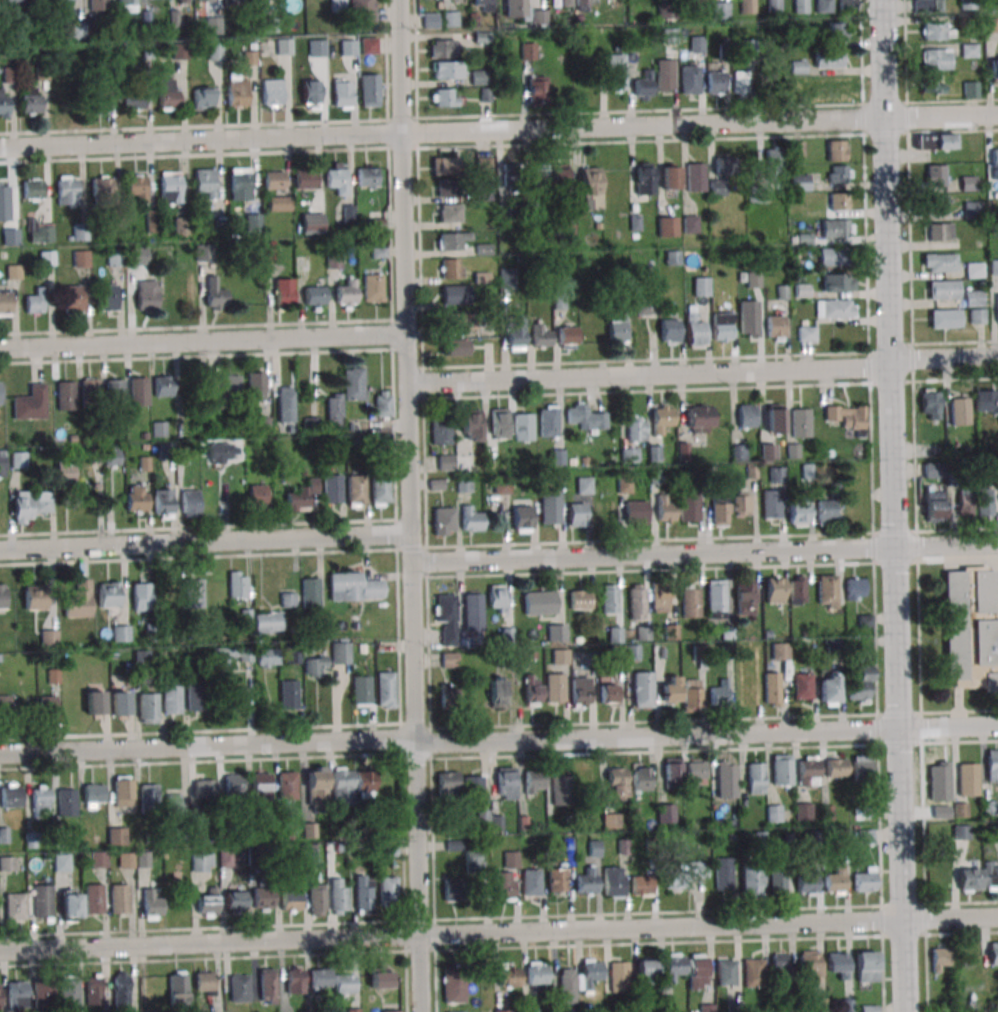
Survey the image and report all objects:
building: (12, 0)
building: (203, 0)
building: (232, 0)
building: (459, 0)
building: (182, 1)
building: (691, 1)
building: (565, 2)
building: (583, 2)
building: (98, 5)
building: (126, 5)
building: (845, 5)
building: (929, 5)
building: (747, 6)
building: (801, 6)
building: (824, 6)
building: (773, 7)
building: (514, 8)
building: (721, 10)
building: (360, 11)
building: (538, 16)
building: (666, 16)
building: (450, 18)
building: (429, 20)
building: (213, 25)
building: (76, 30)
building: (938, 31)
building: (837, 32)
building: (697, 44)
building: (368, 45)
building: (283, 46)
building: (316, 48)
building: (442, 48)
building: (528, 50)
building: (969, 50)
building: (179, 51)
building: (214, 51)
building: (829, 59)
building: (936, 59)
building: (798, 67)
building: (994, 68)
building: (444, 70)
building: (615, 72)
building: (665, 74)
building: (479, 77)
building: (690, 79)
building: (742, 81)
building: (716, 82)
building: (643, 85)
building: (931, 85)
building: (971, 89)
building: (369, 90)
building: (536, 91)
building: (271, 92)
building: (342, 93)
building: (167, 94)
building: (310, 94)
building: (237, 95)
building: (446, 97)
building: (202, 98)
building: (30, 101)
building: (134, 101)
building: (3, 102)
building: (99, 105)
road: (498, 129)
building: (936, 141)
building: (837, 150)
building: (774, 159)
building: (994, 163)
building: (484, 164)
building: (444, 165)
building: (558, 173)
building: (839, 174)
building: (935, 175)
building: (337, 177)
building: (367, 177)
building: (671, 177)
building: (696, 177)
building: (645, 178)
building: (274, 179)
building: (305, 179)
building: (719, 179)
building: (801, 182)
building: (204, 183)
building: (240, 184)
building: (508, 184)
building: (592, 185)
building: (101, 186)
building: (137, 187)
building: (447, 187)
building: (170, 188)
building: (32, 189)
building: (67, 190)
building: (483, 190)
building: (3, 191)
building: (839, 201)
building: (279, 203)
building: (936, 204)
building: (971, 210)
building: (506, 211)
building: (449, 215)
building: (151, 220)
building: (252, 222)
building: (312, 223)
building: (691, 224)
building: (182, 226)
building: (668, 226)
building: (836, 227)
building: (940, 231)
building: (80, 232)
building: (40, 233)
building: (569, 233)
building: (453, 240)
building: (831, 256)
building: (48, 257)
building: (672, 257)
building: (138, 258)
building: (334, 261)
building: (941, 263)
building: (994, 267)
building: (451, 268)
building: (974, 269)
building: (507, 277)
building: (838, 282)
building: (701, 286)
building: (373, 288)
building: (944, 290)
building: (215, 293)
building: (284, 293)
building: (347, 293)
building: (147, 295)
building: (314, 295)
building: (455, 295)
building: (73, 298)
building: (107, 298)
building: (974, 298)
building: (36, 301)
building: (5, 303)
building: (646, 306)
building: (997, 307)
building: (835, 308)
building: (977, 315)
building: (748, 318)
building: (945, 318)
building: (461, 322)
building: (722, 327)
building: (775, 327)
building: (618, 328)
building: (694, 329)
building: (669, 331)
building: (806, 333)
building: (515, 334)
building: (541, 336)
building: (590, 336)
building: (567, 337)
road: (202, 341)
building: (454, 347)
road: (703, 373)
building: (256, 383)
building: (162, 385)
building: (90, 386)
building: (224, 387)
building: (138, 390)
building: (0, 392)
building: (114, 393)
building: (66, 395)
building: (344, 395)
building: (30, 403)
building: (383, 403)
building: (286, 404)
building: (930, 404)
building: (986, 404)
building: (960, 411)
building: (747, 415)
building: (586, 417)
building: (662, 417)
building: (700, 418)
building: (774, 418)
building: (848, 418)
building: (548, 421)
building: (801, 422)
building: (499, 423)
building: (471, 424)
building: (522, 427)
building: (636, 428)
building: (159, 429)
building: (441, 430)
building: (768, 451)
building: (738, 452)
building: (111, 455)
building: (630, 455)
building: (19, 459)
building: (454, 462)
building: (2, 463)
building: (932, 469)
building: (65, 471)
building: (777, 474)
building: (624, 482)
building: (463, 483)
building: (584, 485)
building: (332, 488)
building: (356, 490)
building: (380, 491)
building: (257, 496)
building: (301, 496)
building: (136, 499)
building: (42, 502)
building: (741, 502)
building: (965, 502)
building: (984, 502)
building: (163, 503)
building: (191, 503)
building: (771, 504)
building: (22, 506)
road: (409, 506)
road: (892, 506)
building: (934, 506)
building: (550, 507)
building: (689, 507)
building: (665, 509)
building: (720, 510)
building: (825, 511)
building: (635, 512)
building: (798, 512)
building: (577, 514)
building: (521, 518)
building: (470, 520)
building: (443, 521)
road: (205, 541)
road: (704, 552)
road: (945, 559)
building: (237, 584)
building: (354, 587)
building: (798, 589)
building: (855, 589)
building: (774, 590)
parking lot: (997, 590)
building: (827, 591)
building: (310, 592)
building: (193, 593)
building: (108, 594)
building: (2, 596)
building: (34, 597)
building: (745, 597)
building: (142, 598)
building: (497, 598)
building: (715, 598)
building: (580, 599)
building: (608, 599)
building: (660, 599)
building: (79, 600)
building: (636, 601)
building: (539, 602)
building: (690, 602)
building: (472, 611)
building: (446, 614)
building: (268, 622)
building: (971, 627)
building: (671, 631)
building: (120, 632)
building: (556, 632)
building: (615, 634)
road: (919, 636)
building: (49, 638)
building: (781, 651)
building: (340, 652)
building: (632, 652)
building: (245, 654)
building: (292, 654)
building: (560, 656)
building: (267, 657)
building: (141, 658)
building: (220, 658)
building: (314, 662)
building: (861, 685)
building: (803, 687)
building: (555, 688)
building: (829, 688)
building: (385, 689)
building: (642, 689)
building: (670, 689)
building: (772, 689)
building: (361, 690)
building: (532, 690)
building: (580, 690)
building: (608, 691)
building: (497, 692)
building: (720, 693)
building: (288, 694)
building: (449, 695)
building: (691, 695)
building: (196, 697)
building: (171, 699)
road: (958, 701)
building: (94, 702)
building: (118, 703)
building: (6, 705)
building: (147, 708)
building: (47, 709)
road: (946, 711)
road: (498, 737)
building: (992, 766)
building: (836, 767)
building: (862, 767)
building: (781, 769)
building: (808, 770)
building: (672, 772)
building: (695, 773)
building: (640, 777)
building: (756, 778)
building: (727, 779)
building: (967, 779)
building: (364, 781)
building: (447, 781)
building: (534, 781)
building: (616, 782)
building: (233, 784)
building: (506, 784)
building: (562, 784)
building: (287, 785)
building: (342, 785)
building: (260, 786)
building: (204, 788)
building: (316, 788)
building: (473, 789)
building: (122, 791)
building: (94, 794)
building: (11, 795)
building: (149, 795)
building: (40, 801)
building: (173, 801)
building: (66, 802)
building: (960, 809)
building: (803, 811)
building: (665, 812)
building: (774, 813)
building: (611, 820)
building: (309, 830)
building: (117, 835)
building: (865, 837)
building: (594, 848)
building: (309, 855)
building: (226, 857)
building: (98, 859)
building: (511, 859)
building: (473, 860)
building: (61, 862)
building: (202, 862)
building: (682, 873)
building: (723, 874)
building: (990, 875)
building: (557, 879)
building: (865, 879)
building: (969, 879)
building: (777, 880)
building: (807, 880)
building: (587, 881)
building: (613, 881)
building: (750, 881)
building: (835, 881)
building: (531, 882)
building: (503, 885)
building: (641, 885)
building: (388, 889)
building: (453, 889)
building: (363, 894)
building: (337, 897)
building: (119, 898)
building: (94, 899)
building: (263, 899)
building: (290, 899)
building: (316, 899)
building: (42, 900)
building: (235, 900)
building: (208, 903)
building: (152, 905)
building: (14, 906)
building: (70, 906)
road: (924, 918)
road: (498, 931)
building: (993, 953)
building: (939, 959)
building: (780, 964)
building: (838, 964)
building: (673, 965)
building: (809, 965)
building: (867, 966)
building: (646, 971)
building: (698, 971)
building: (726, 972)
building: (753, 972)
building: (537, 973)
building: (509, 974)
building: (320, 977)
building: (381, 977)
building: (618, 977)
building: (295, 979)
building: (579, 979)
building: (205, 983)
building: (344, 983)
building: (453, 984)
building: (267, 986)
building: (177, 988)
building: (239, 988)
building: (93, 989)
building: (121, 989)
building: (69, 991)
building: (42, 993)
building: (17, 994)
building: (0, 997)
building: (819, 1005)
building: (847, 1005)
building: (707, 1007)
building: (869, 1008)
building: (391, 1010)
building: (502, 1010)
building: (455, 1011)
building: (559, 1011)

